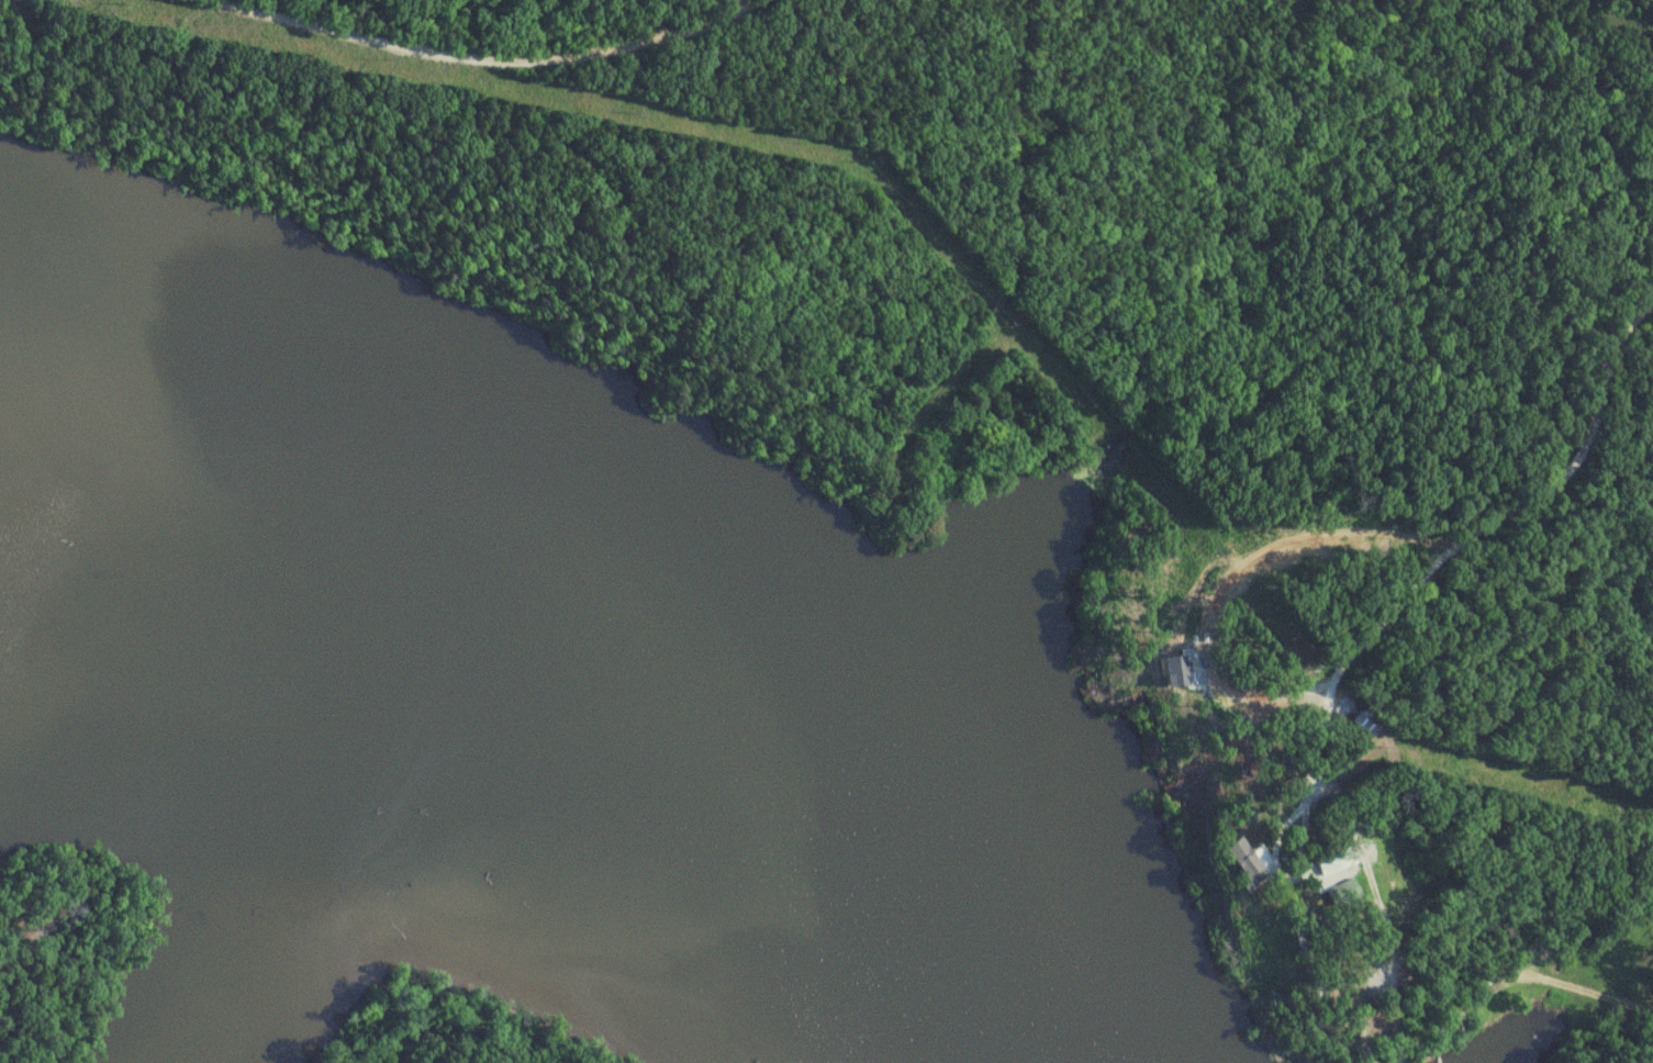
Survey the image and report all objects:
road: (485, 61)
road: (1013, 266)
road: (1461, 548)
river: (581, 719)
building: (1371, 723)
road: (1281, 829)
building: (1248, 857)
building: (1334, 863)
building: (1350, 893)

